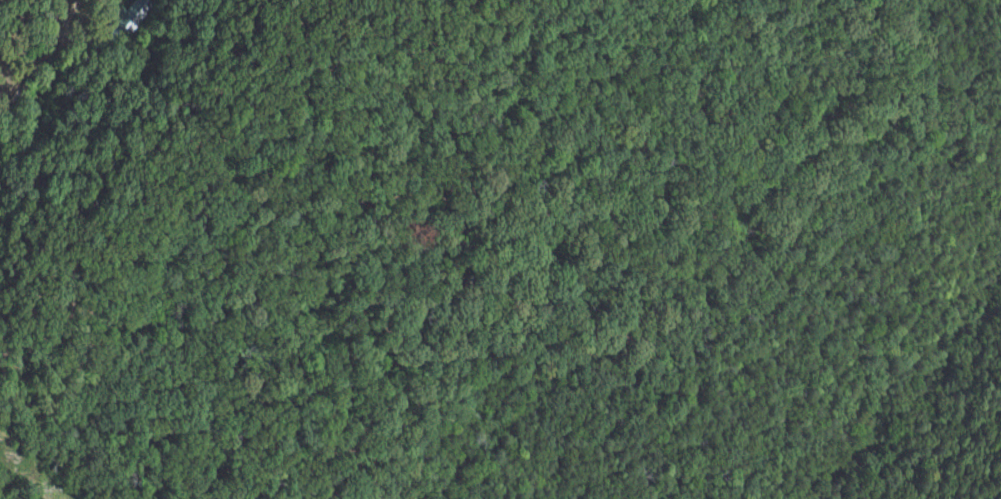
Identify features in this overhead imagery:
building: (132, 15)
road: (62, 38)

